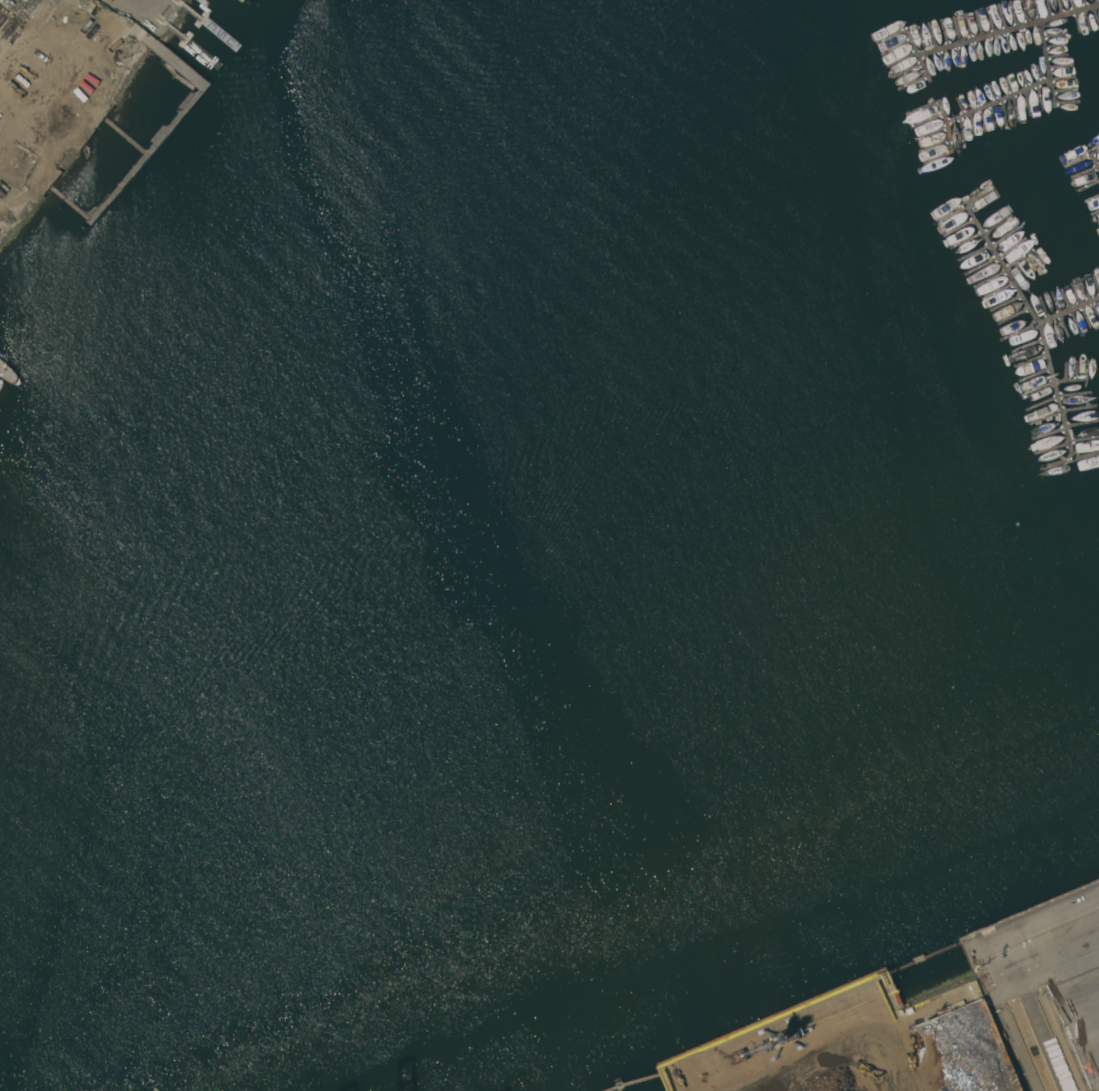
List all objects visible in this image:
building: (108, 0)
building: (111, 0)
pier: (996, 34)
pier: (927, 68)
pier: (1015, 94)
pier: (946, 114)
pier: (1095, 159)
pier: (1001, 264)
pier: (1048, 359)

